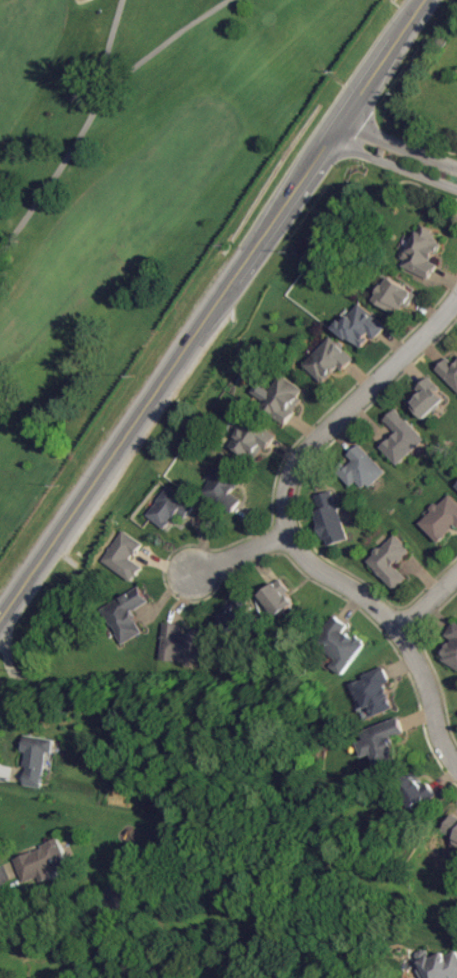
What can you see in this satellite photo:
road: (396, 144)
road: (391, 163)
park: (124, 186)
building: (423, 252)
building: (396, 296)
road: (209, 311)
building: (361, 325)
building: (330, 360)
building: (449, 371)
building: (283, 399)
building: (428, 399)
road: (348, 403)
building: (402, 438)
building: (254, 440)
building: (364, 468)
building: (224, 486)
building: (171, 508)
building: (331, 520)
building: (442, 520)
road: (234, 554)
building: (126, 556)
building: (392, 562)
road: (426, 598)
building: (285, 608)
building: (127, 615)
building: (240, 618)
road: (397, 628)
building: (184, 644)
building: (341, 644)
building: (452, 647)
building: (375, 692)
building: (383, 742)
building: (37, 759)
building: (417, 791)
building: (452, 825)
building: (45, 861)
road: (49, 910)
building: (439, 965)

